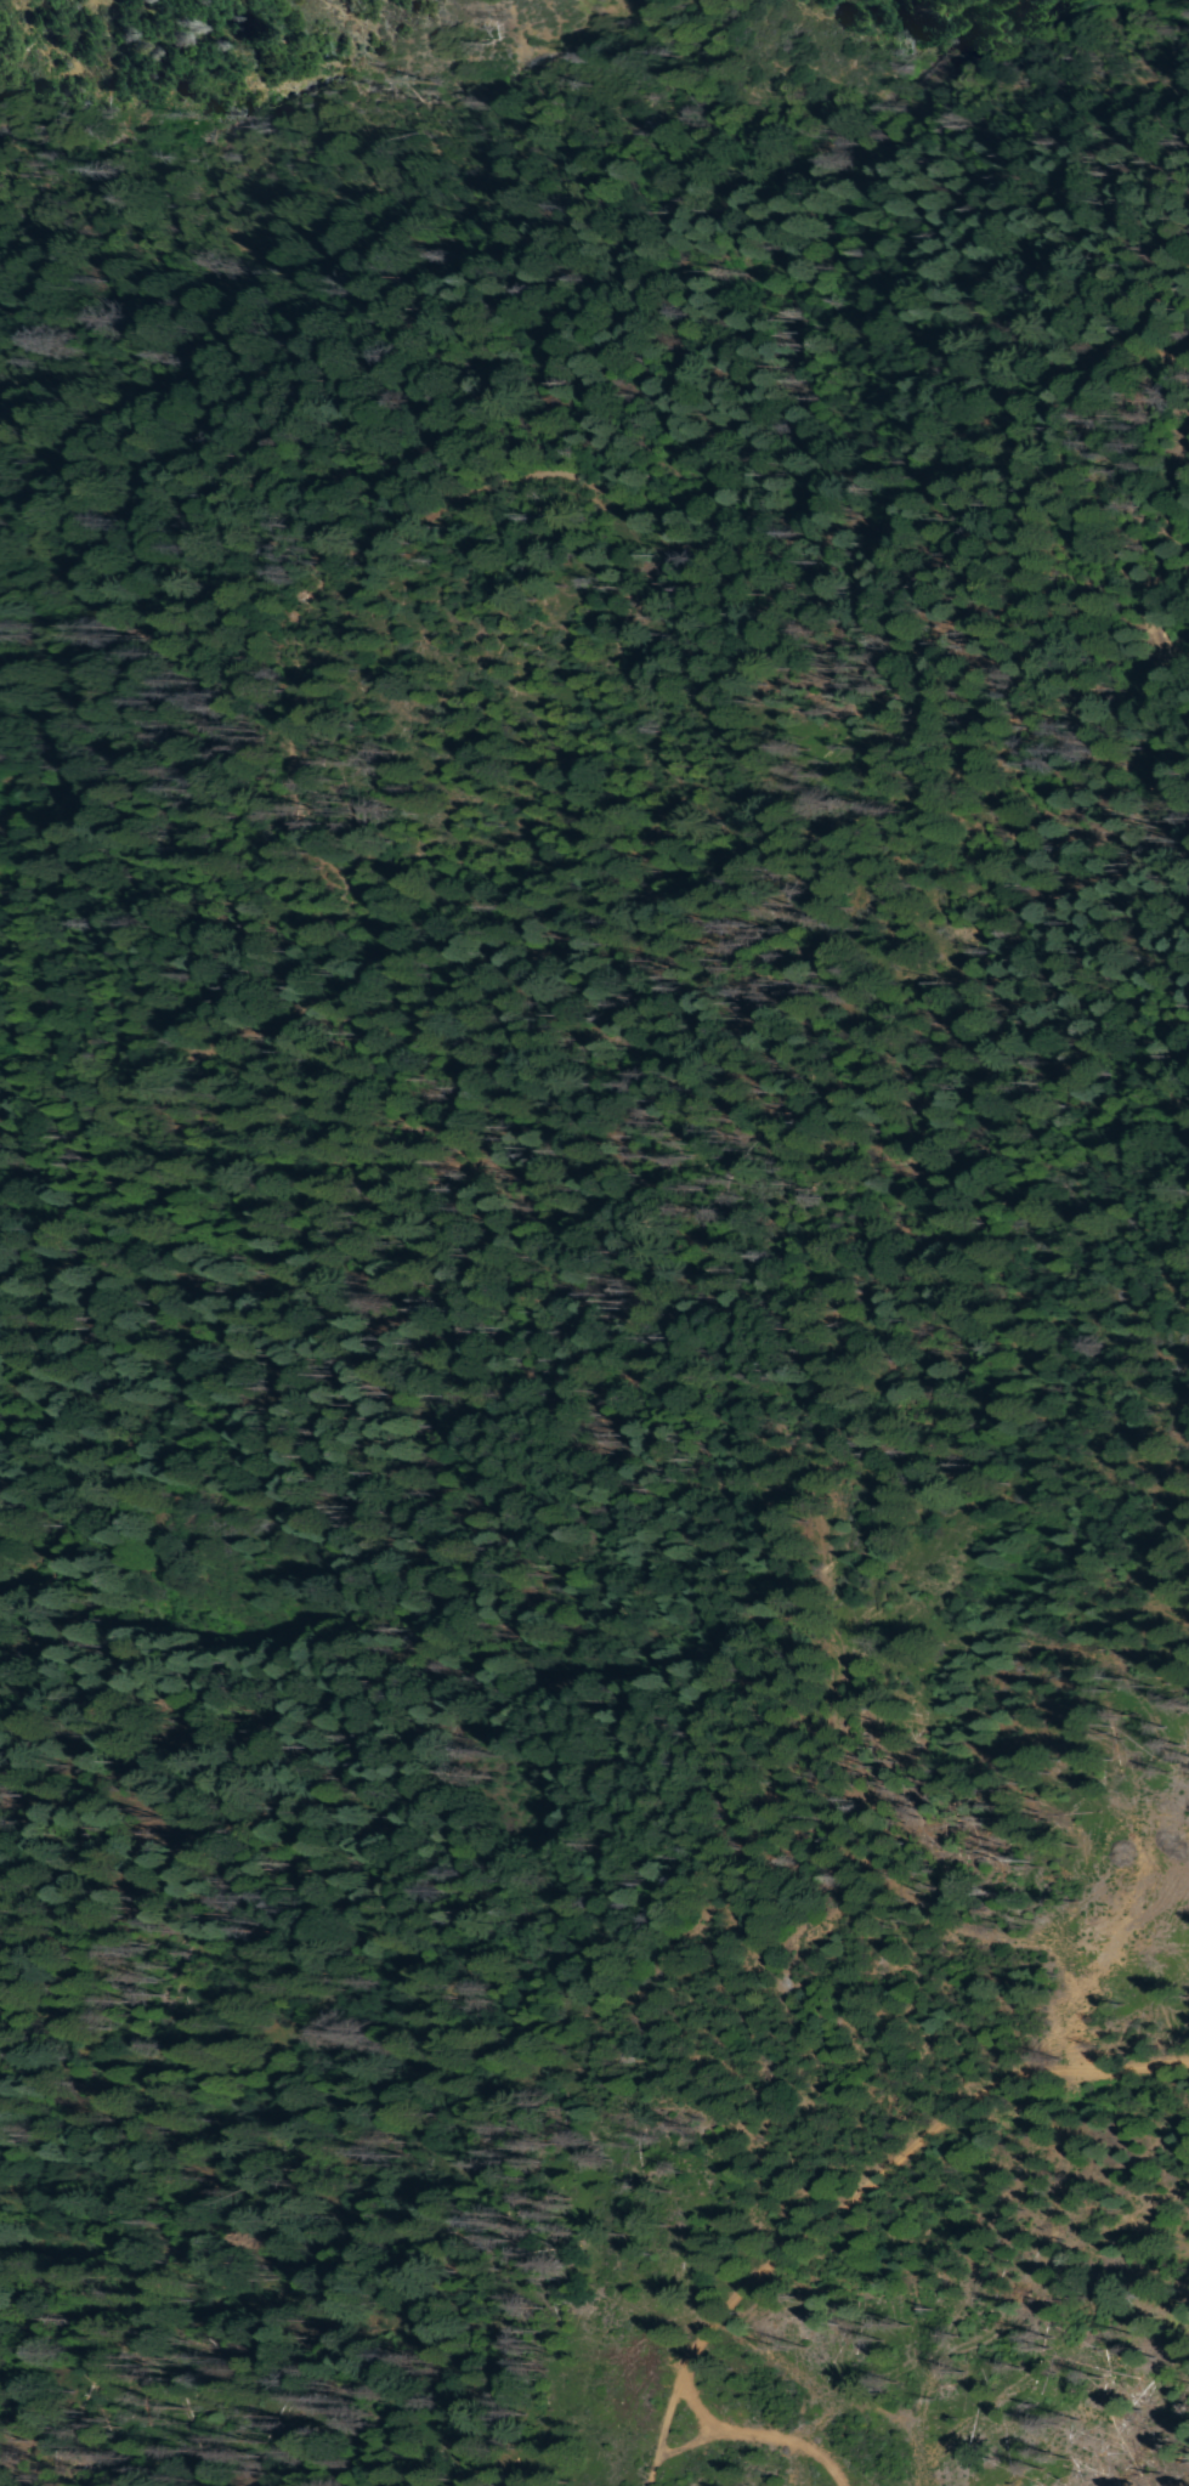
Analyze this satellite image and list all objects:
road: (864, 2195)

